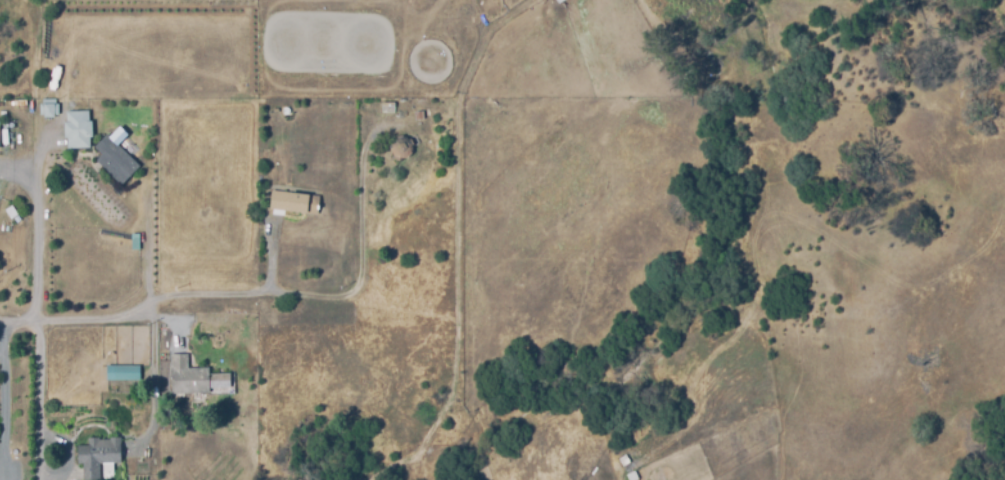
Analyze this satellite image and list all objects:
building: (49, 107)
building: (387, 107)
building: (418, 114)
building: (76, 129)
building: (401, 147)
building: (114, 159)
building: (146, 166)
building: (294, 201)
building: (134, 241)
road: (35, 243)
road: (281, 294)
road: (23, 322)
building: (122, 371)
building: (190, 376)
road: (3, 396)
road: (37, 400)
building: (180, 431)
building: (98, 454)
building: (624, 459)
building: (632, 475)

